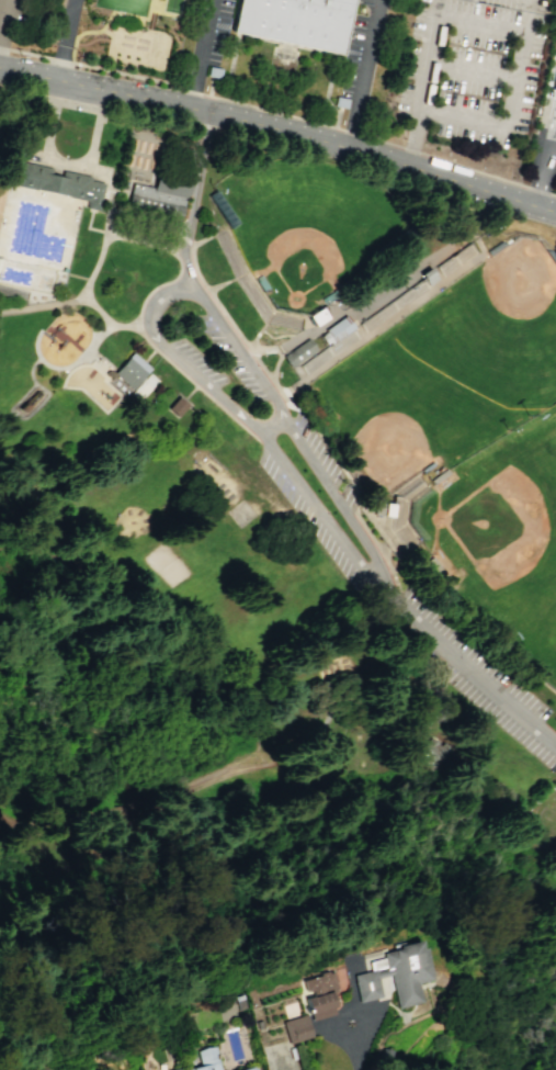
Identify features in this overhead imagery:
parking lot: (502, 3)
park: (124, 5)
parking lot: (15, 21)
road: (105, 22)
building: (297, 22)
road: (4, 24)
road: (500, 27)
road: (63, 41)
road: (202, 56)
road: (472, 69)
parking lot: (469, 70)
road: (366, 76)
road: (48, 80)
building: (554, 83)
road: (22, 85)
parking lot: (5, 86)
road: (124, 110)
road: (280, 114)
parking lot: (145, 115)
road: (554, 137)
road: (93, 139)
road: (328, 145)
road: (18, 150)
road: (54, 160)
road: (383, 171)
road: (544, 174)
building: (58, 182)
building: (161, 195)
road: (192, 202)
park: (313, 228)
road: (105, 229)
road: (203, 241)
road: (161, 249)
road: (439, 273)
building: (430, 278)
road: (235, 281)
road: (392, 285)
road: (260, 294)
road: (163, 295)
road: (75, 297)
building: (319, 317)
road: (144, 324)
road: (362, 325)
road: (386, 329)
building: (337, 330)
road: (266, 348)
building: (299, 352)
road: (160, 354)
parking lot: (232, 359)
parking lot: (202, 363)
road: (65, 368)
park: (451, 369)
building: (131, 376)
road: (42, 408)
building: (180, 408)
road: (272, 426)
building: (209, 462)
road: (350, 480)
parking lot: (315, 494)
road: (336, 496)
road: (319, 509)
building: (389, 511)
park: (502, 542)
park: (250, 559)
park: (180, 570)
road: (160, 604)
road: (344, 630)
road: (463, 665)
road: (527, 668)
parking lot: (477, 677)
road: (396, 688)
road: (319, 697)
road: (77, 723)
road: (554, 737)
building: (431, 752)
road: (315, 754)
road: (136, 806)
road: (8, 811)
park: (502, 966)
building: (394, 973)
building: (318, 994)
road: (348, 1011)
building: (295, 1028)
building: (206, 1059)
road: (354, 1059)
building: (175, 1069)
building: (250, 1069)

